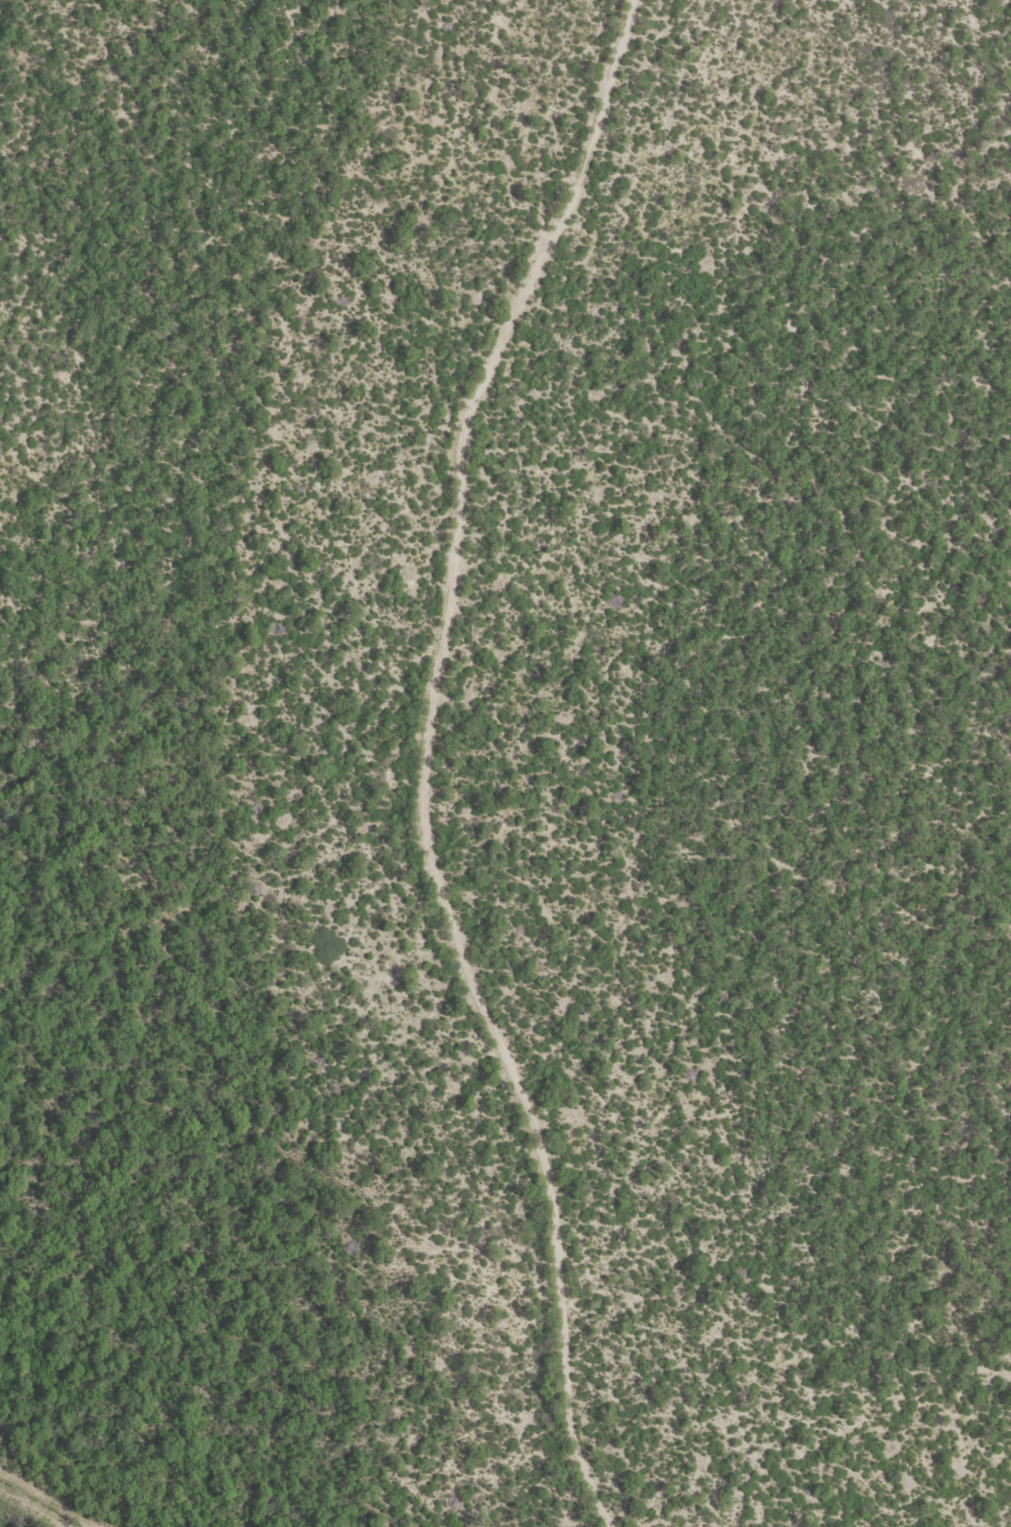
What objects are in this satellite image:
road: (160, 135)
road: (433, 761)

